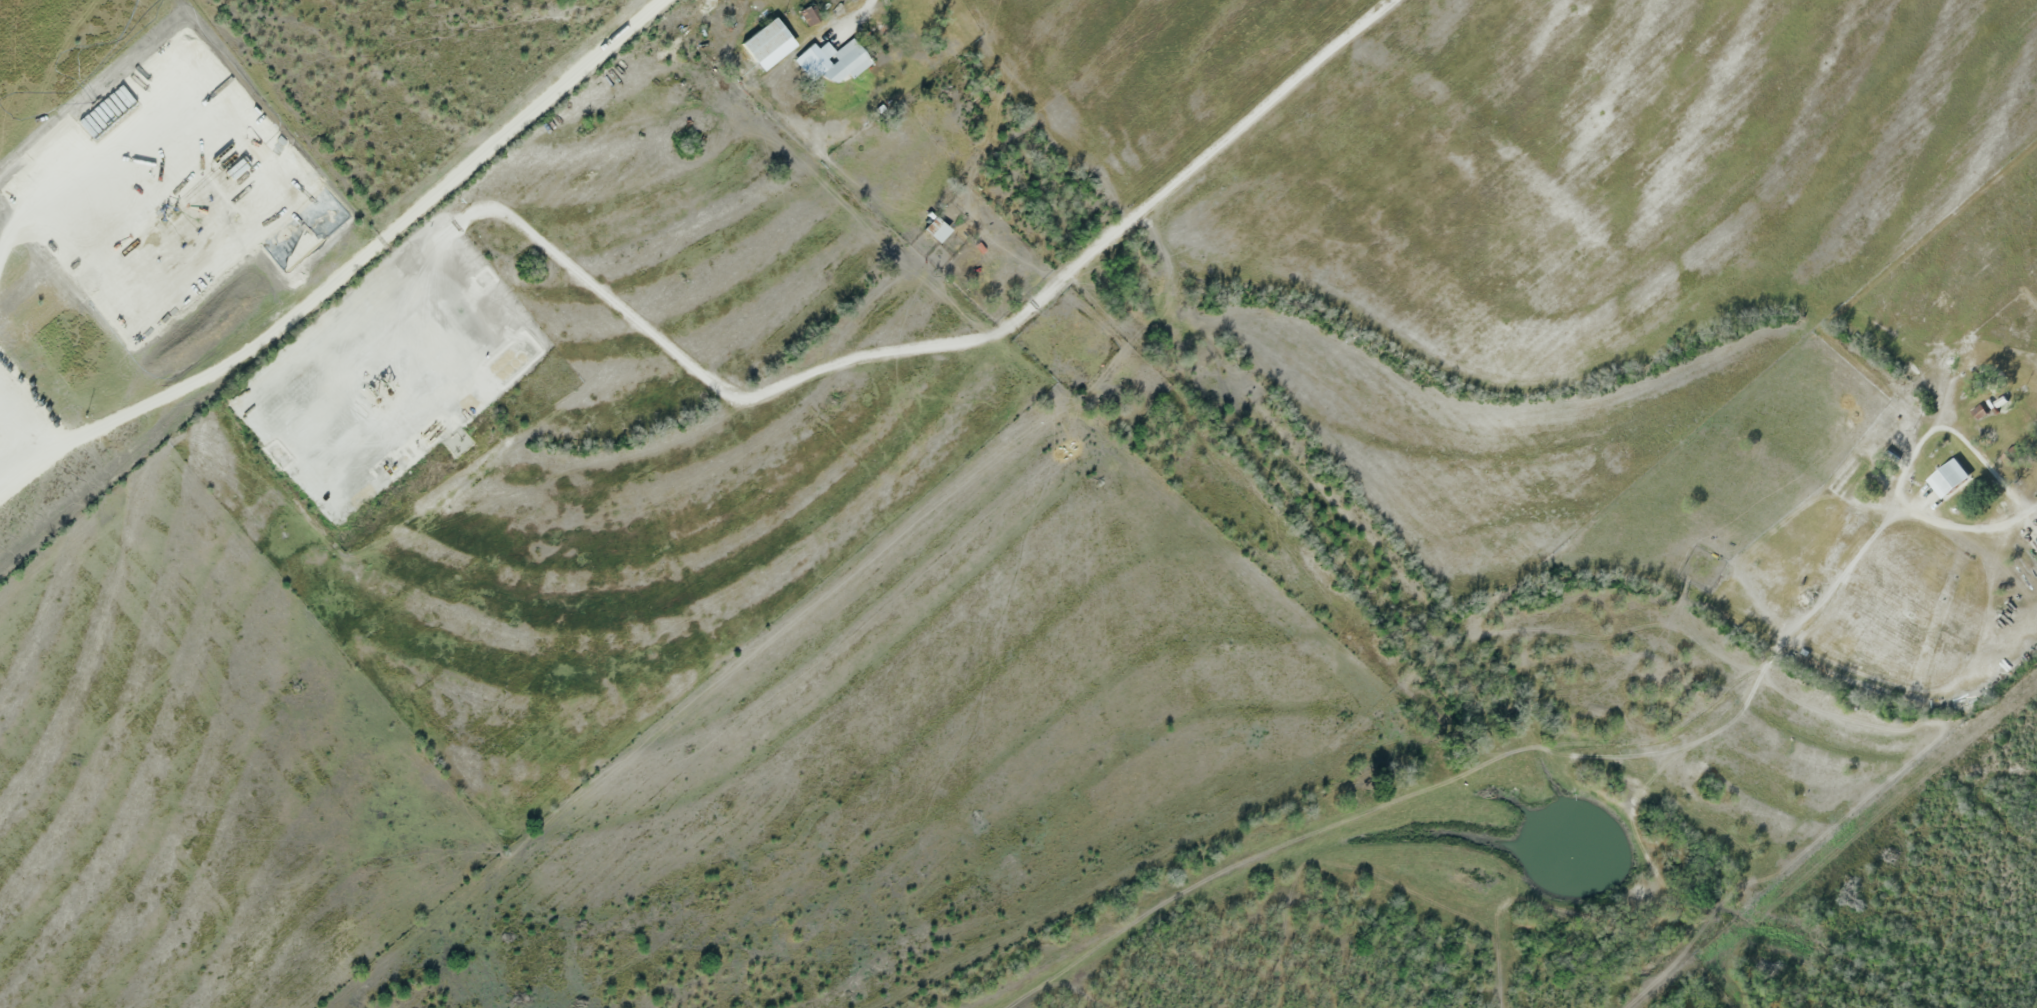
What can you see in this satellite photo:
road: (861, 9)
building: (767, 42)
road: (310, 43)
building: (851, 60)
building: (817, 61)
road: (55, 187)
building: (938, 232)
road: (349, 269)
road: (826, 376)
road: (1909, 462)
building: (1947, 480)
road: (2032, 512)

